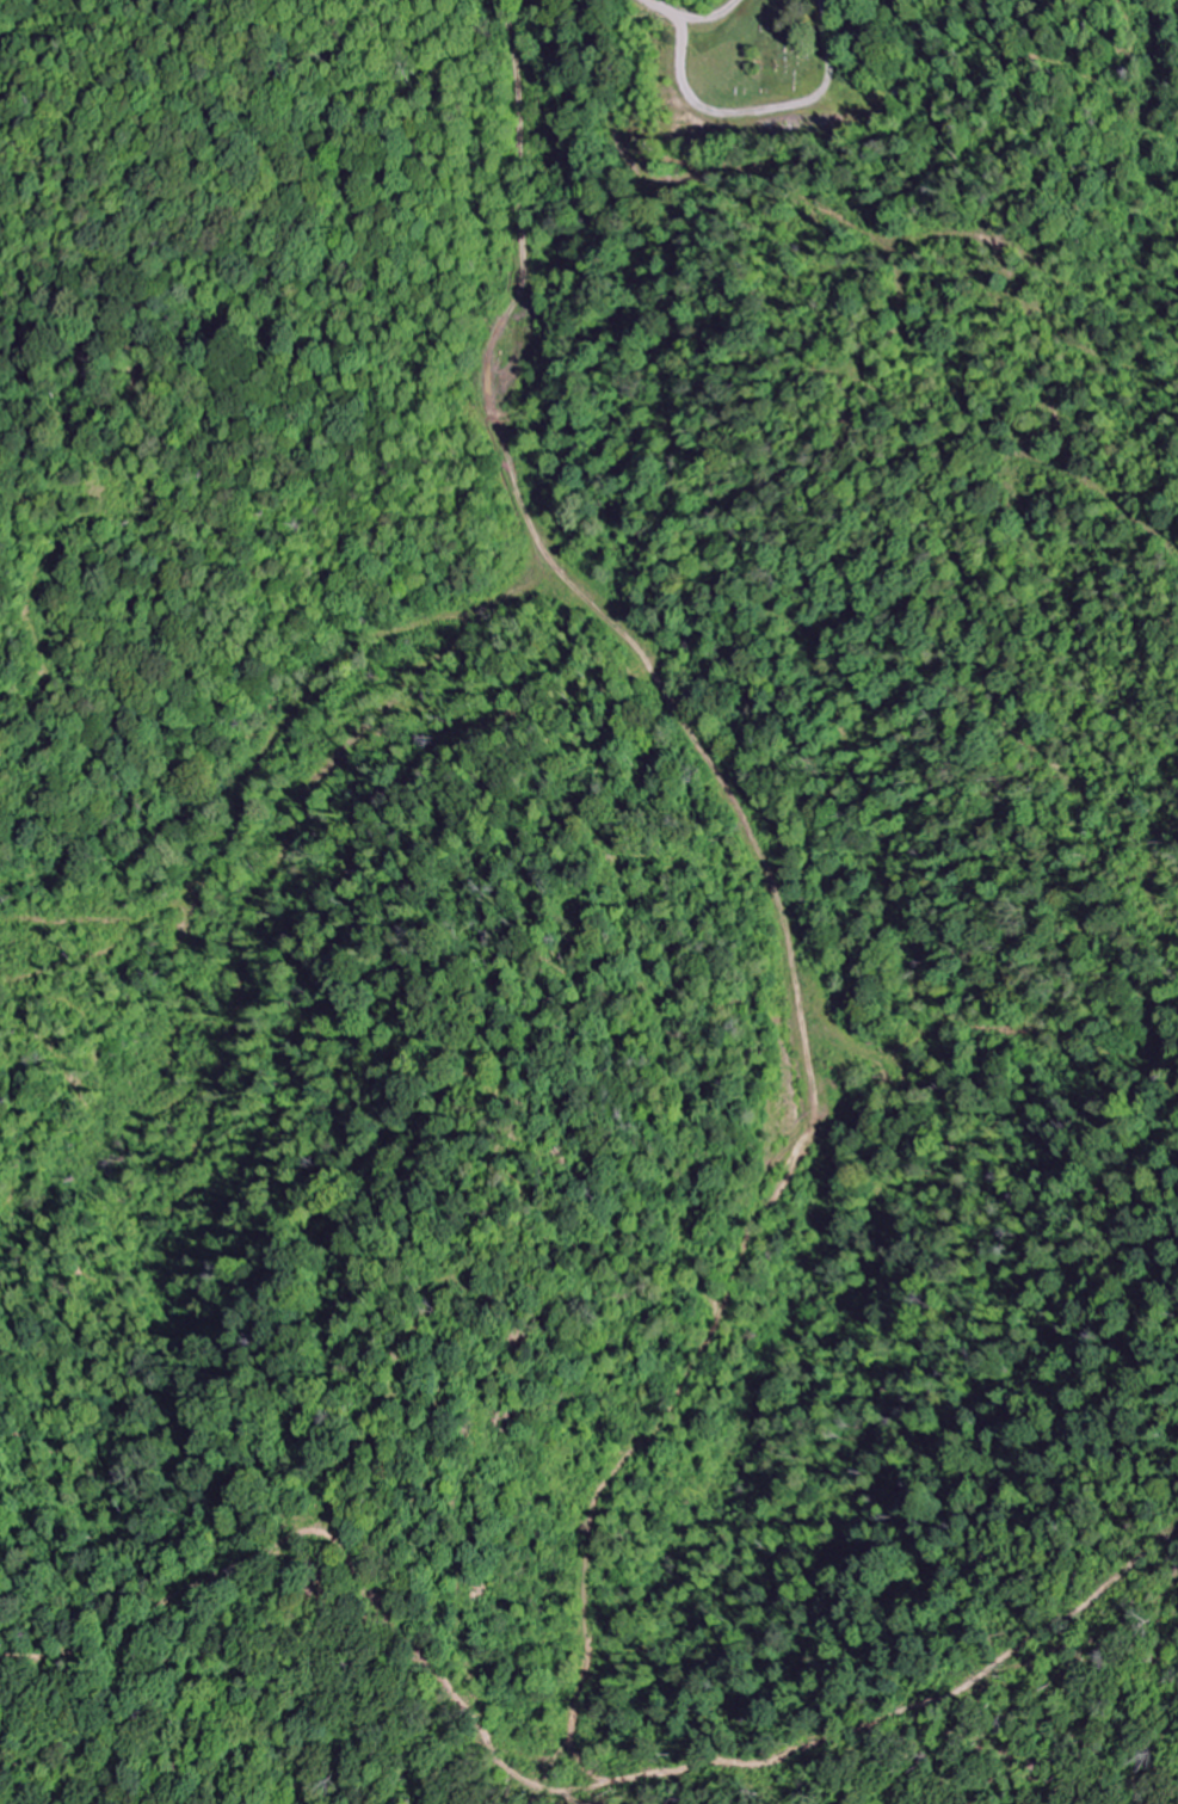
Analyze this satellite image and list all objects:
road: (676, 11)
park: (757, 54)

